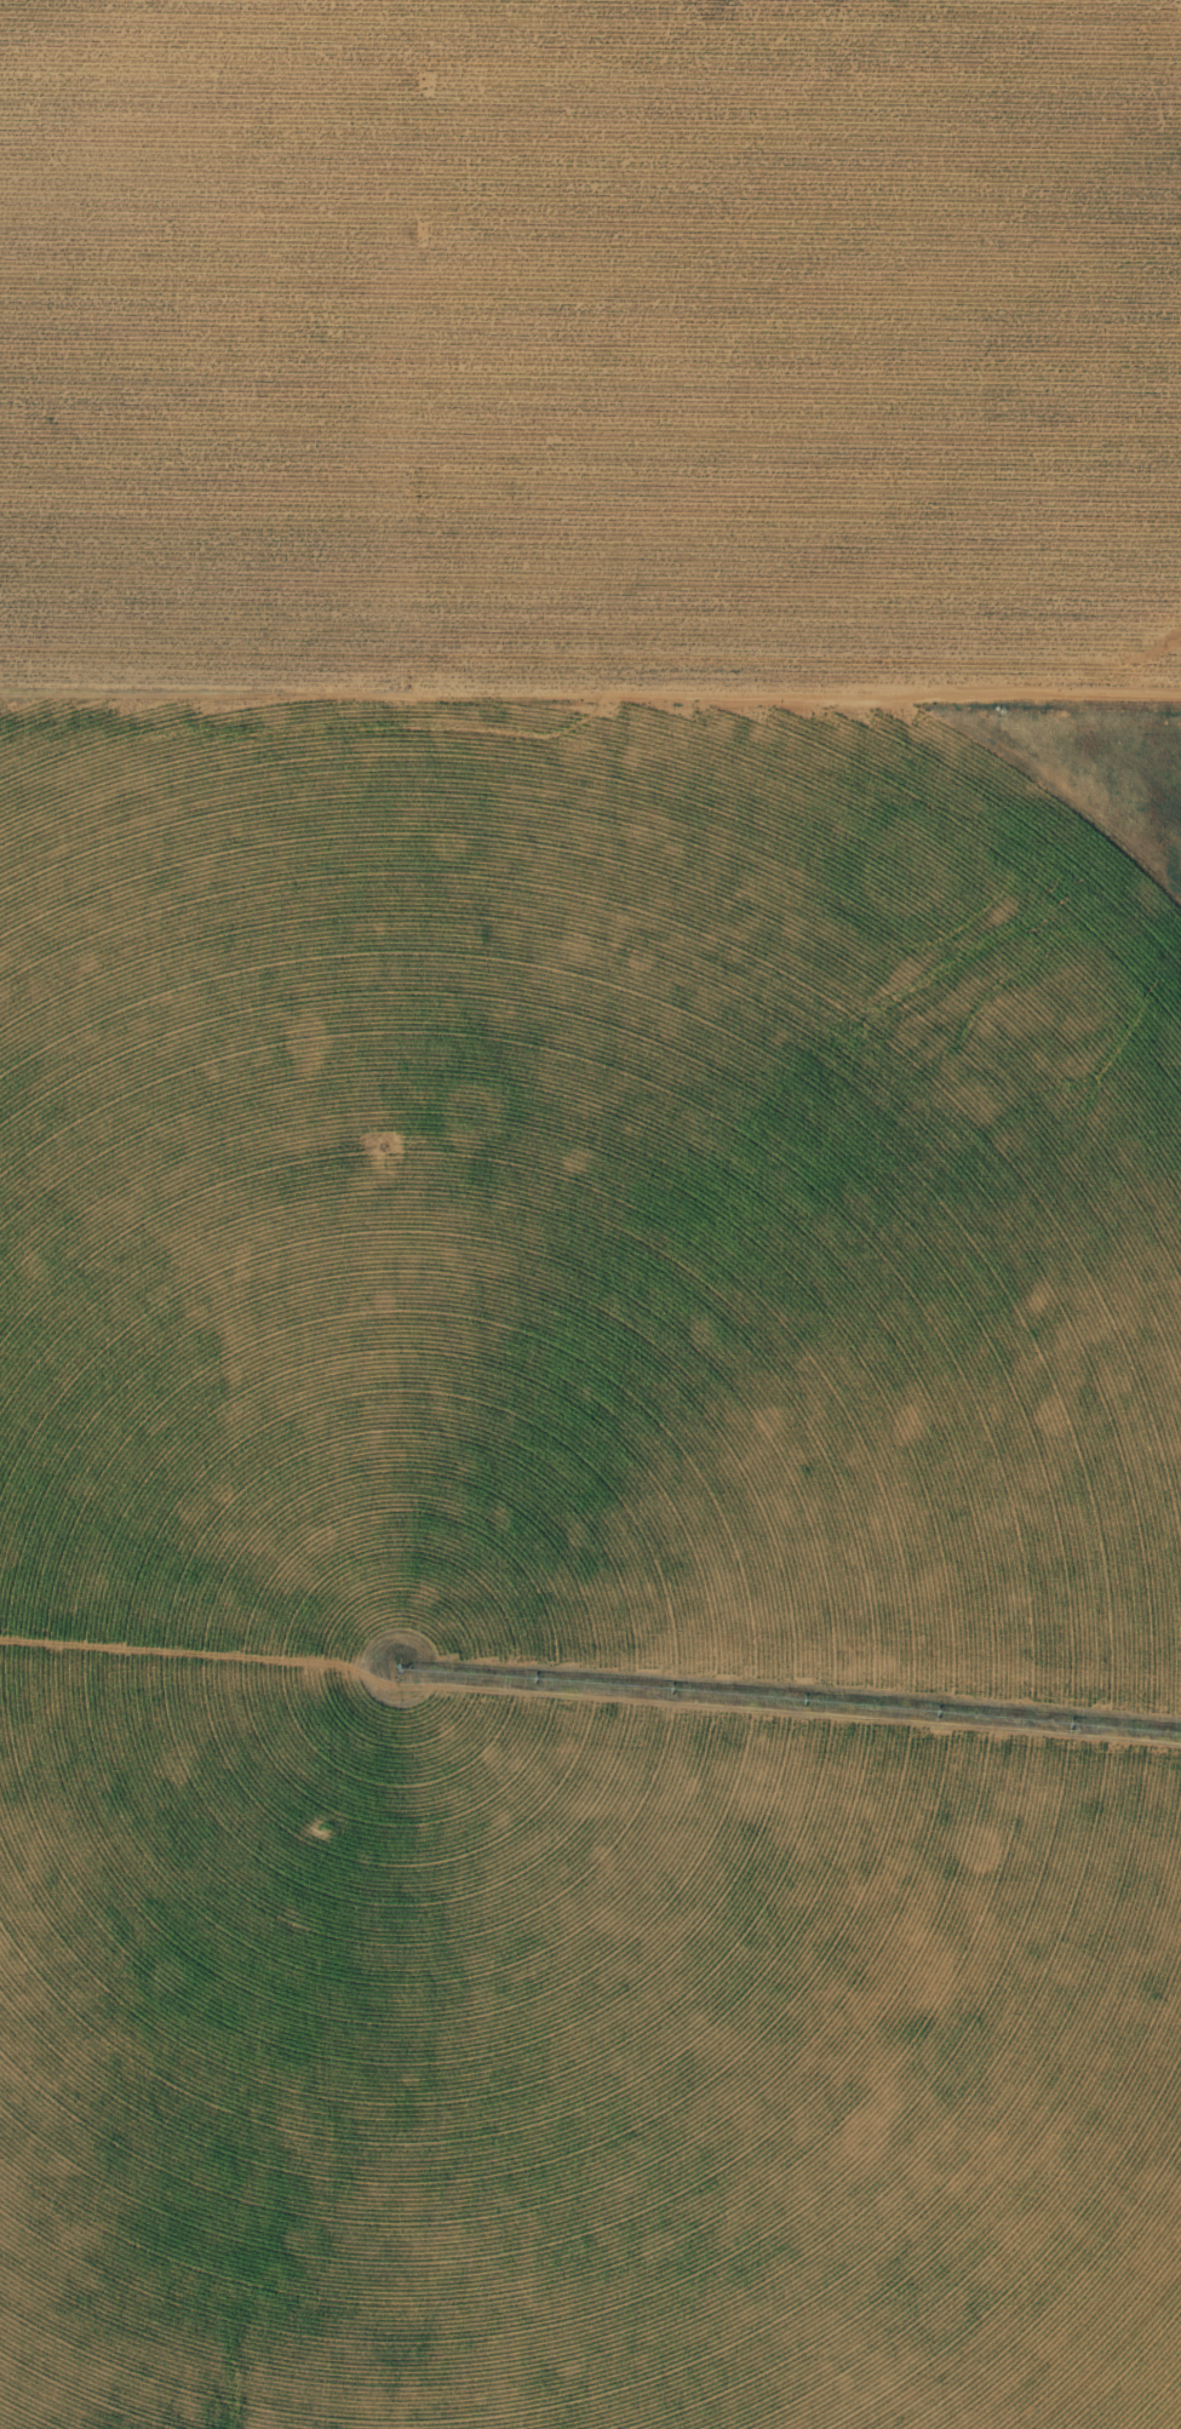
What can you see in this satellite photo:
road: (590, 693)

